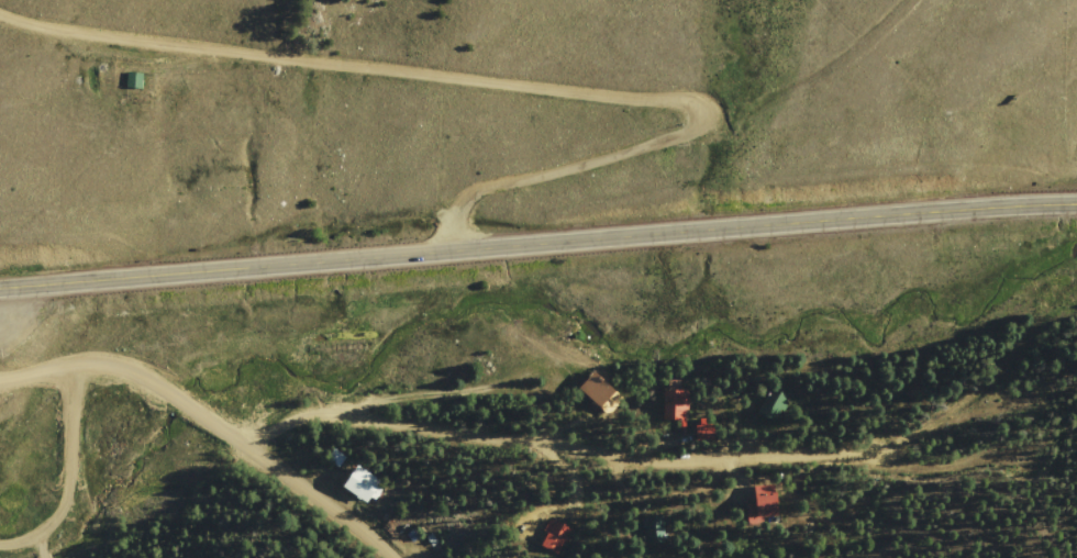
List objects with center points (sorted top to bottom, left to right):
building: (134, 79)
road: (551, 79)
road: (537, 245)
building: (601, 392)
building: (774, 401)
building: (676, 403)
road: (204, 417)
building: (708, 431)
building: (363, 483)
building: (764, 503)
building: (655, 527)
building: (556, 534)

